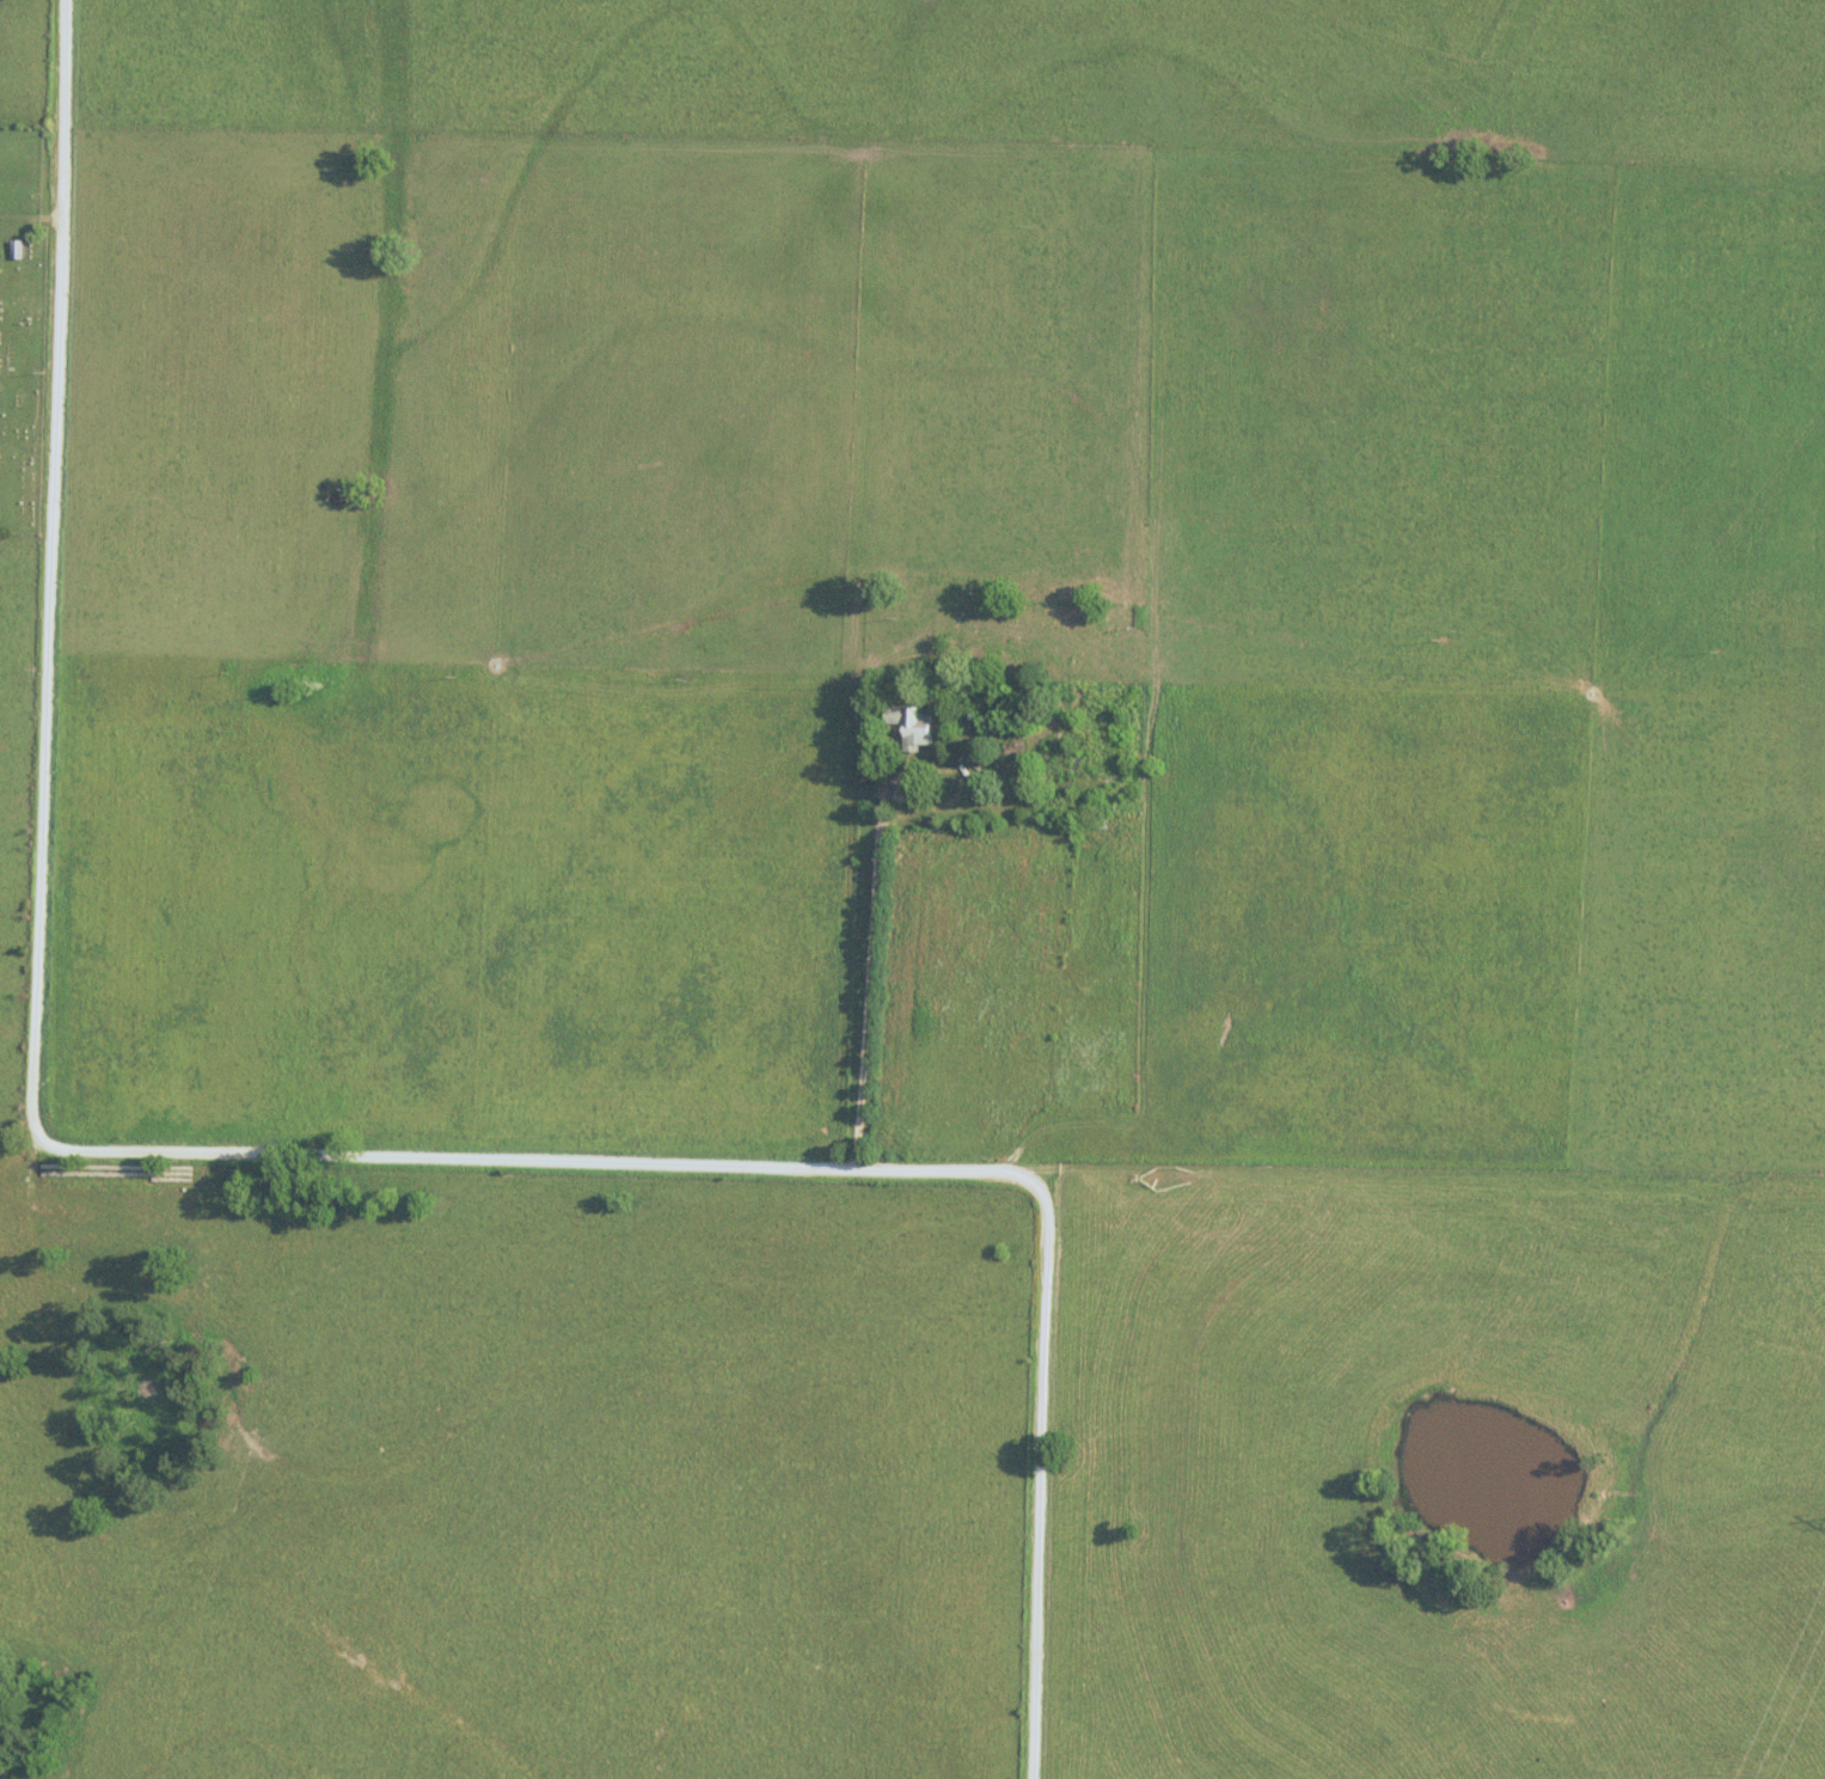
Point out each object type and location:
building: (18, 249)
park: (25, 322)
building: (912, 726)
building: (1096, 823)
road: (880, 892)
road: (270, 1157)

